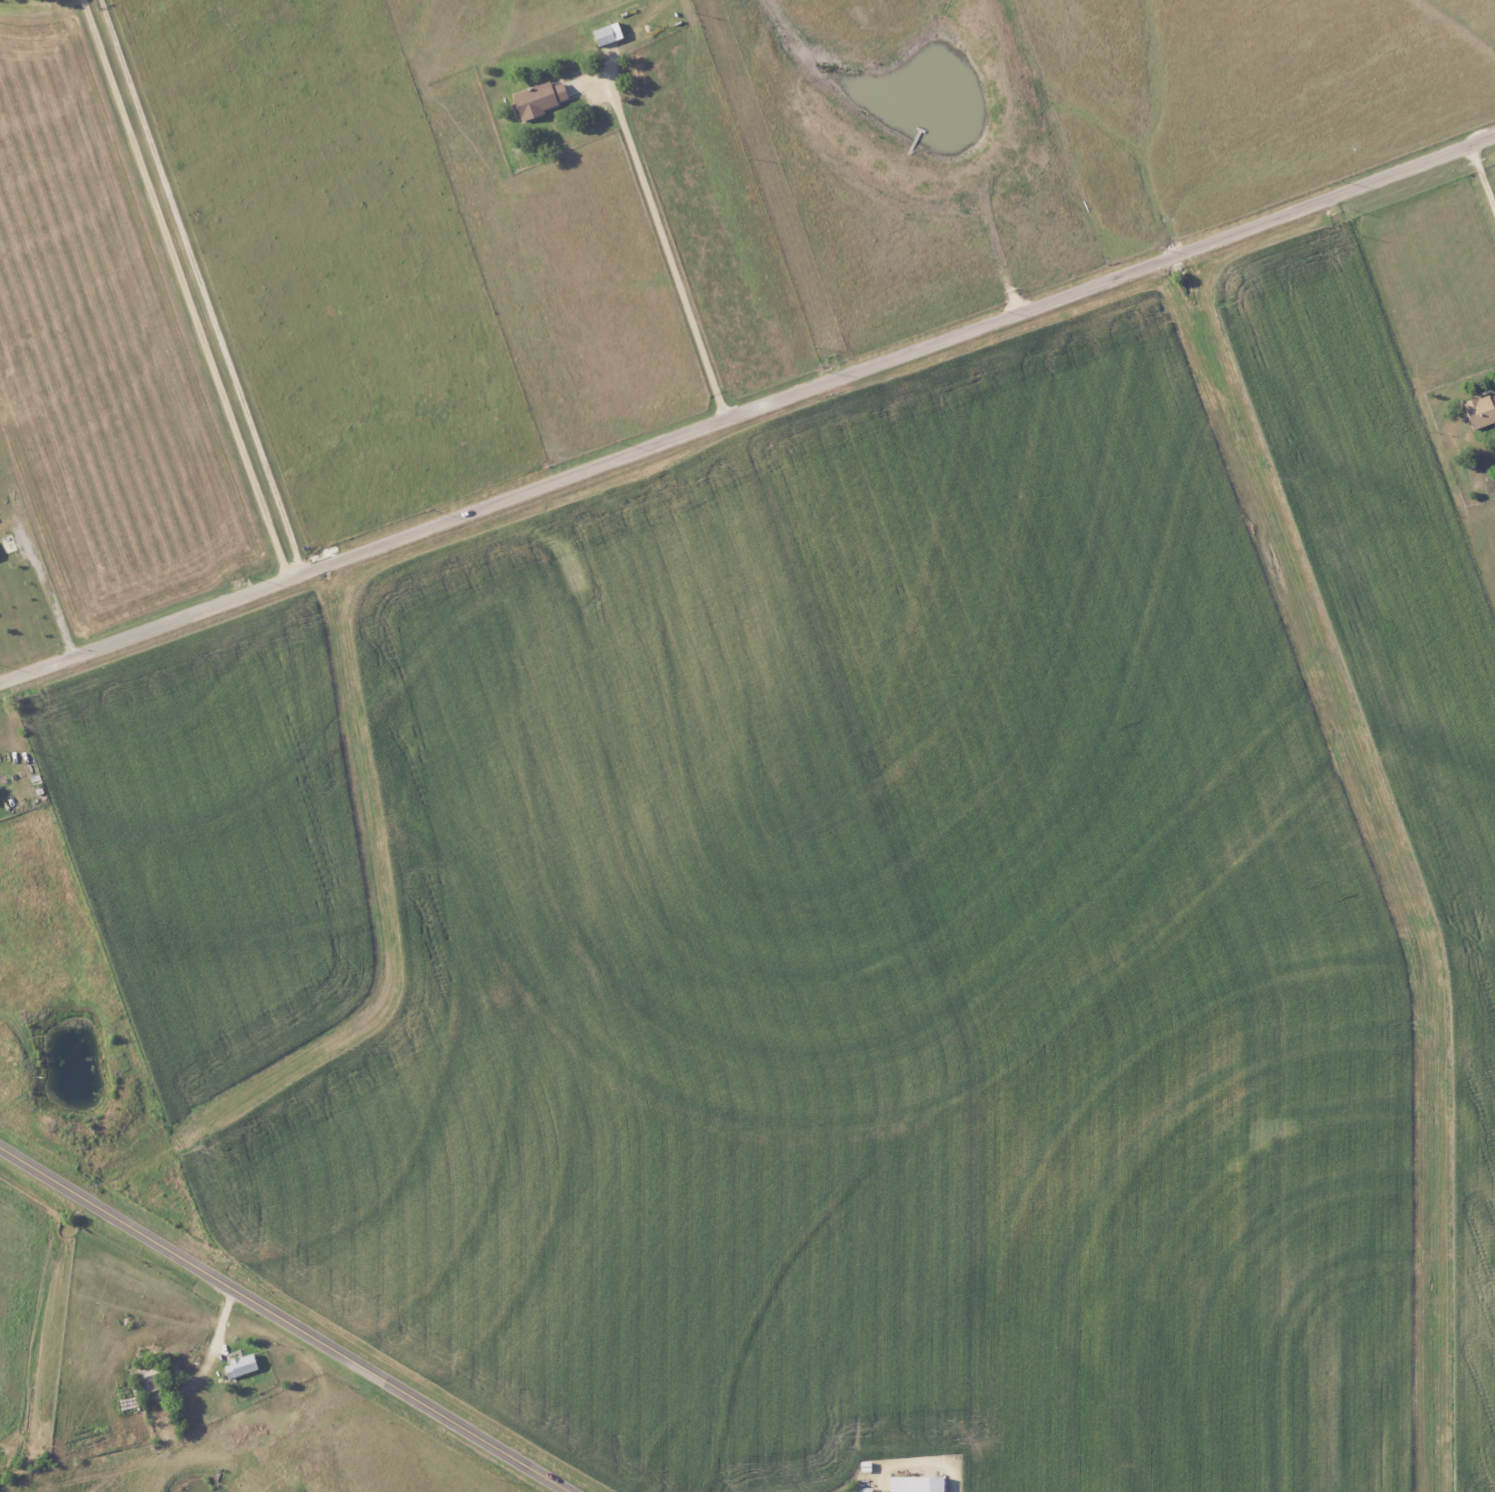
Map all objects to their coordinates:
building: (605, 34)
building: (537, 99)
road: (1479, 185)
road: (666, 249)
road: (207, 287)
road: (190, 290)
road: (748, 411)
building: (1479, 411)
road: (284, 1319)
building: (238, 1366)
building: (914, 1484)
building: (862, 1489)

